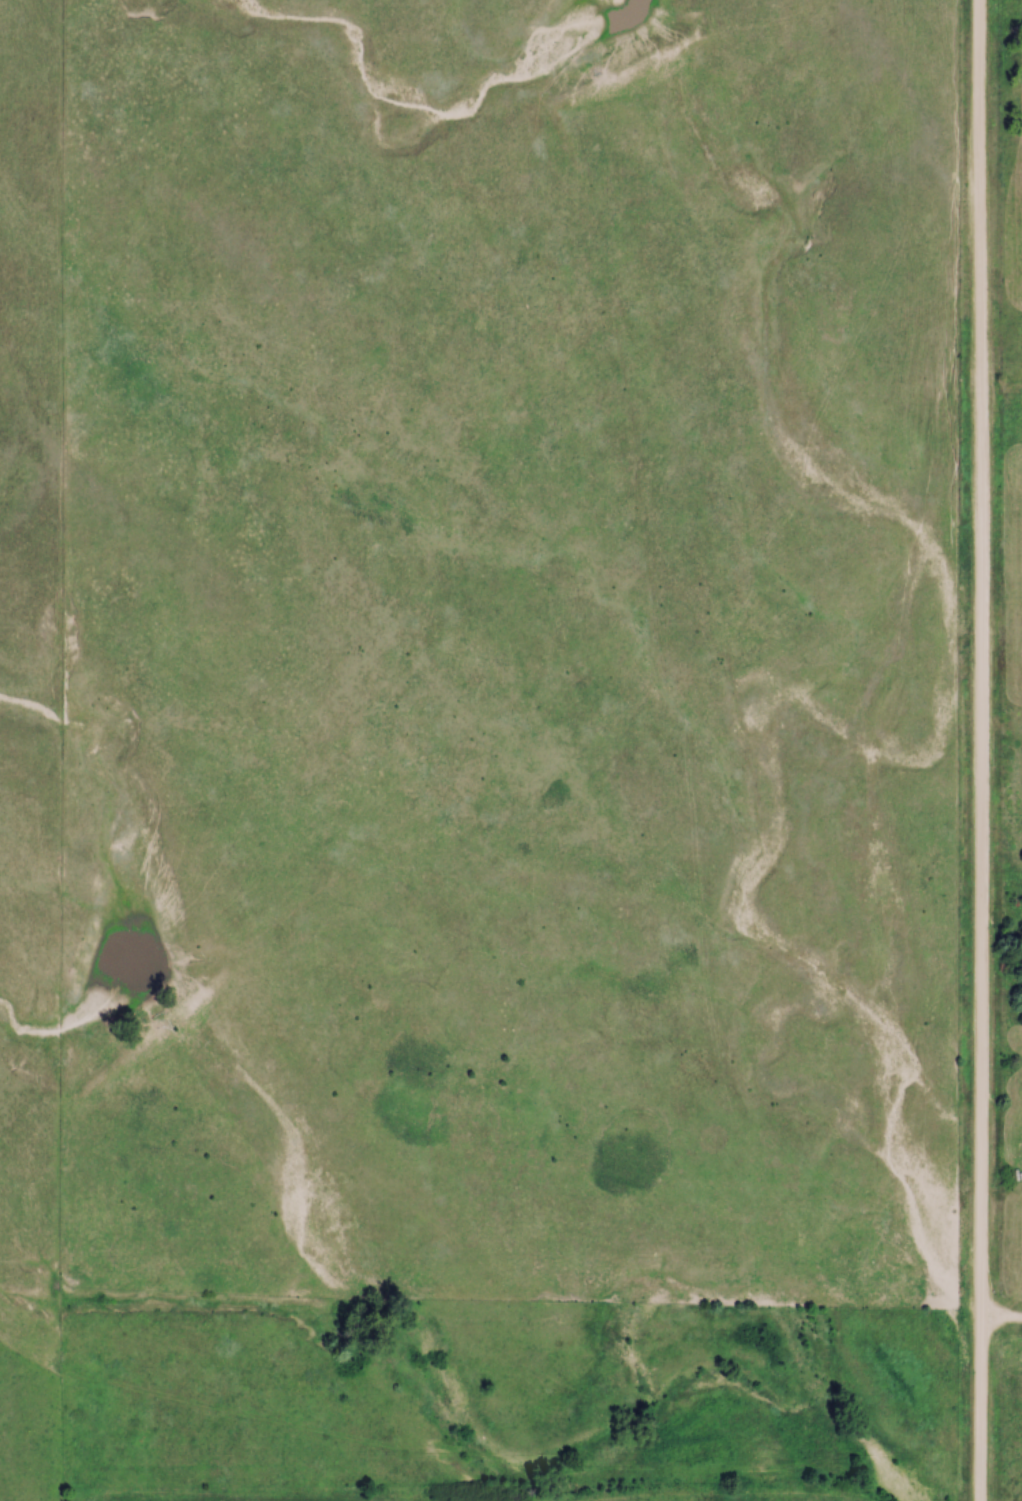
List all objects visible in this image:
road: (984, 750)
road: (1001, 1320)

